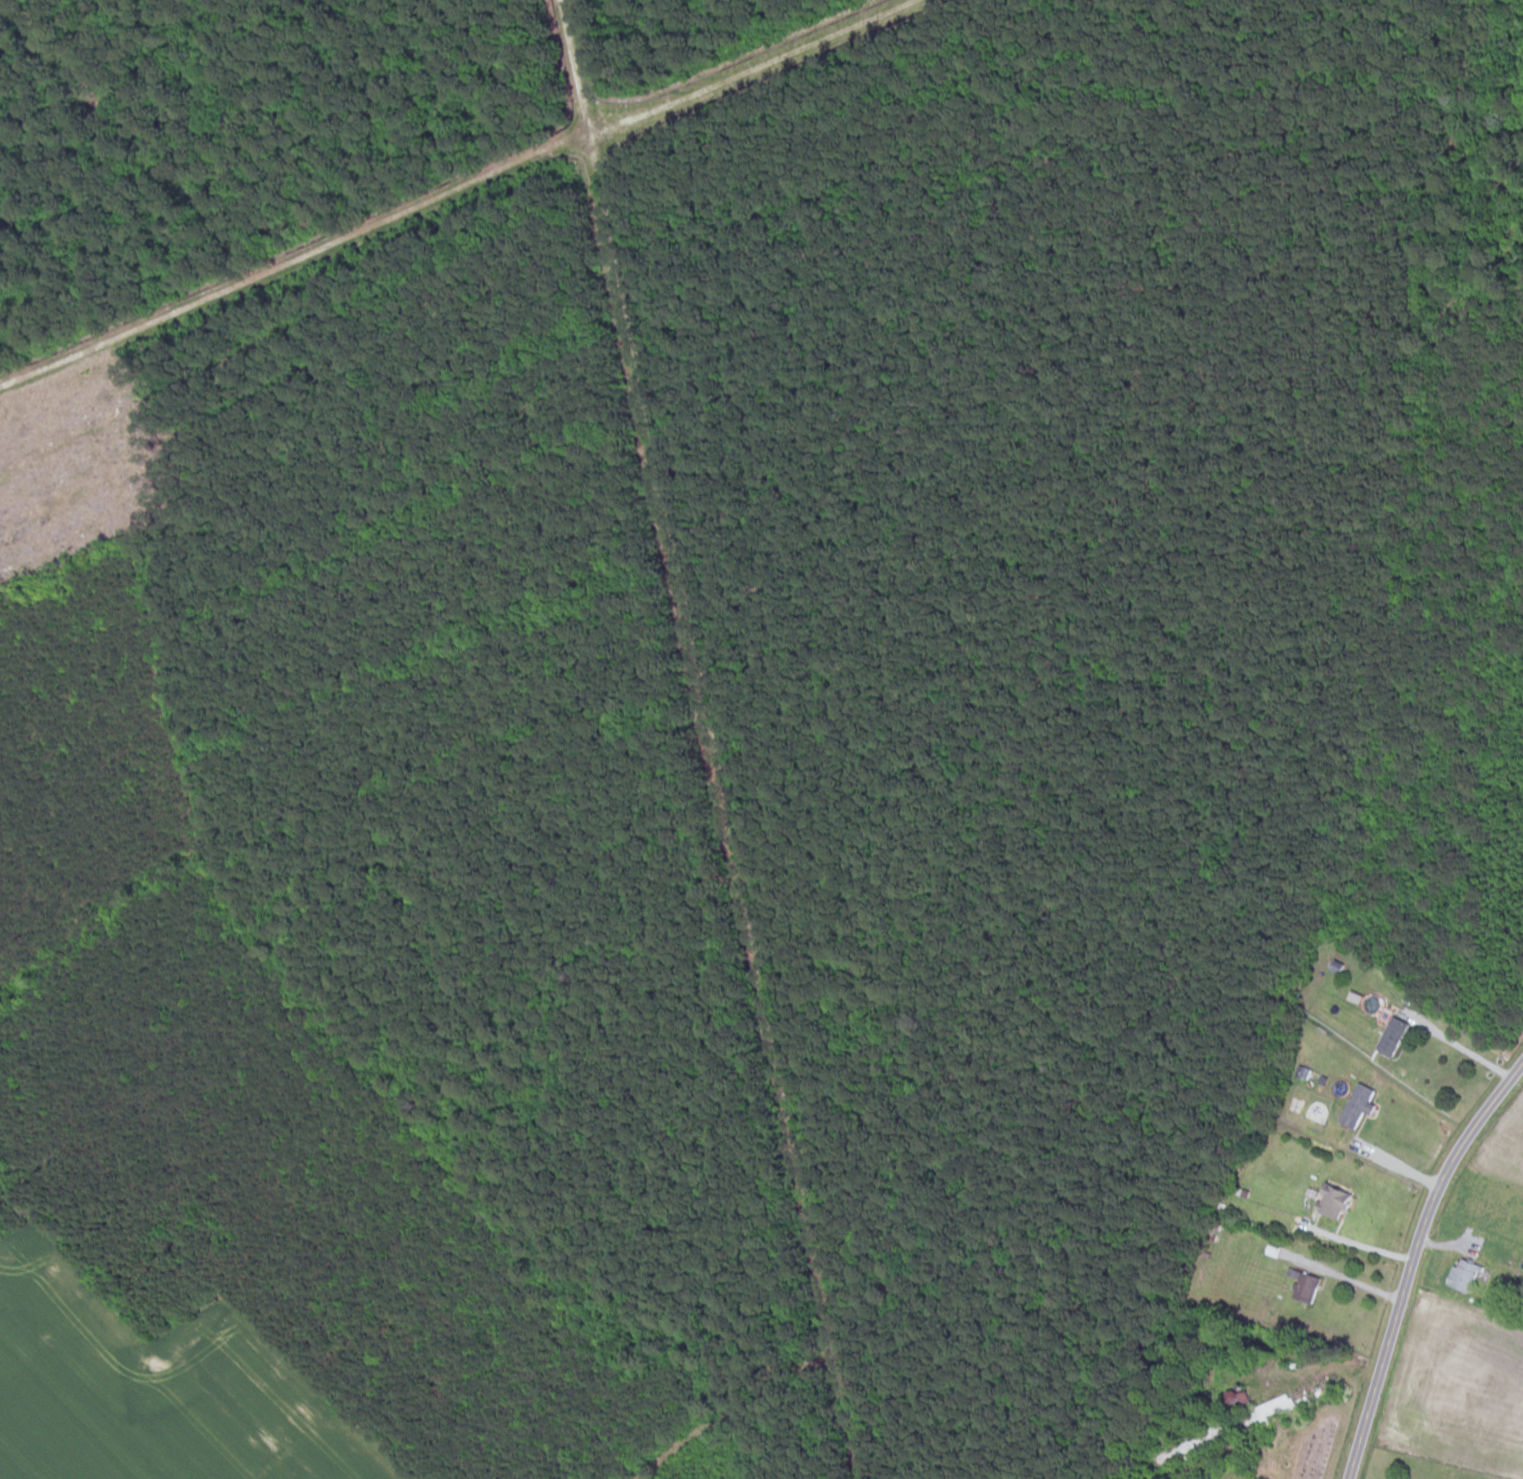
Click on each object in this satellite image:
road: (681, 733)
building: (1391, 1038)
road: (1467, 1051)
building: (1357, 1107)
road: (1402, 1166)
building: (1331, 1203)
road: (1367, 1247)
road: (1413, 1262)
building: (1463, 1277)
road: (1357, 1283)
building: (1304, 1290)
building: (1315, 1395)

